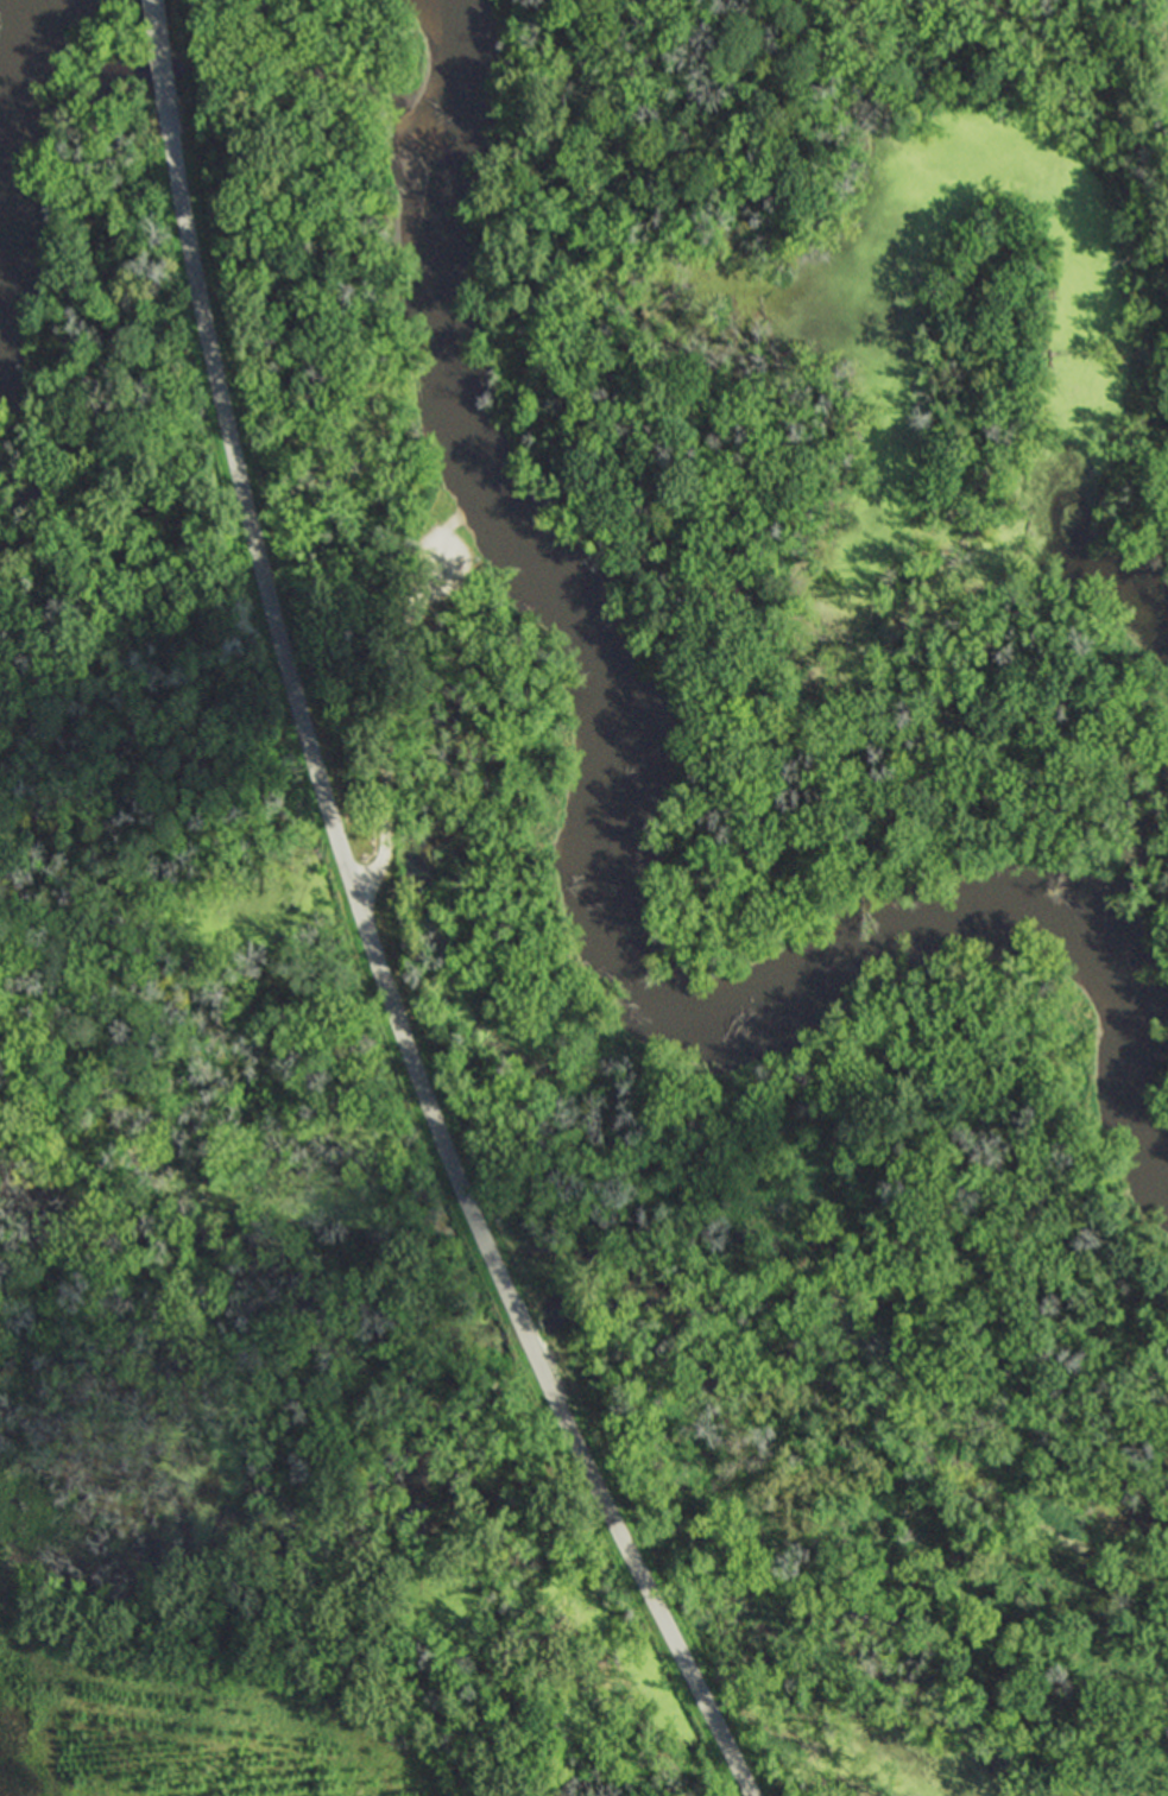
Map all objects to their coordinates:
road: (159, 48)
river: (33, 83)
parking lot: (435, 581)
road: (392, 713)
river: (589, 816)
river: (1136, 873)
road: (383, 972)

